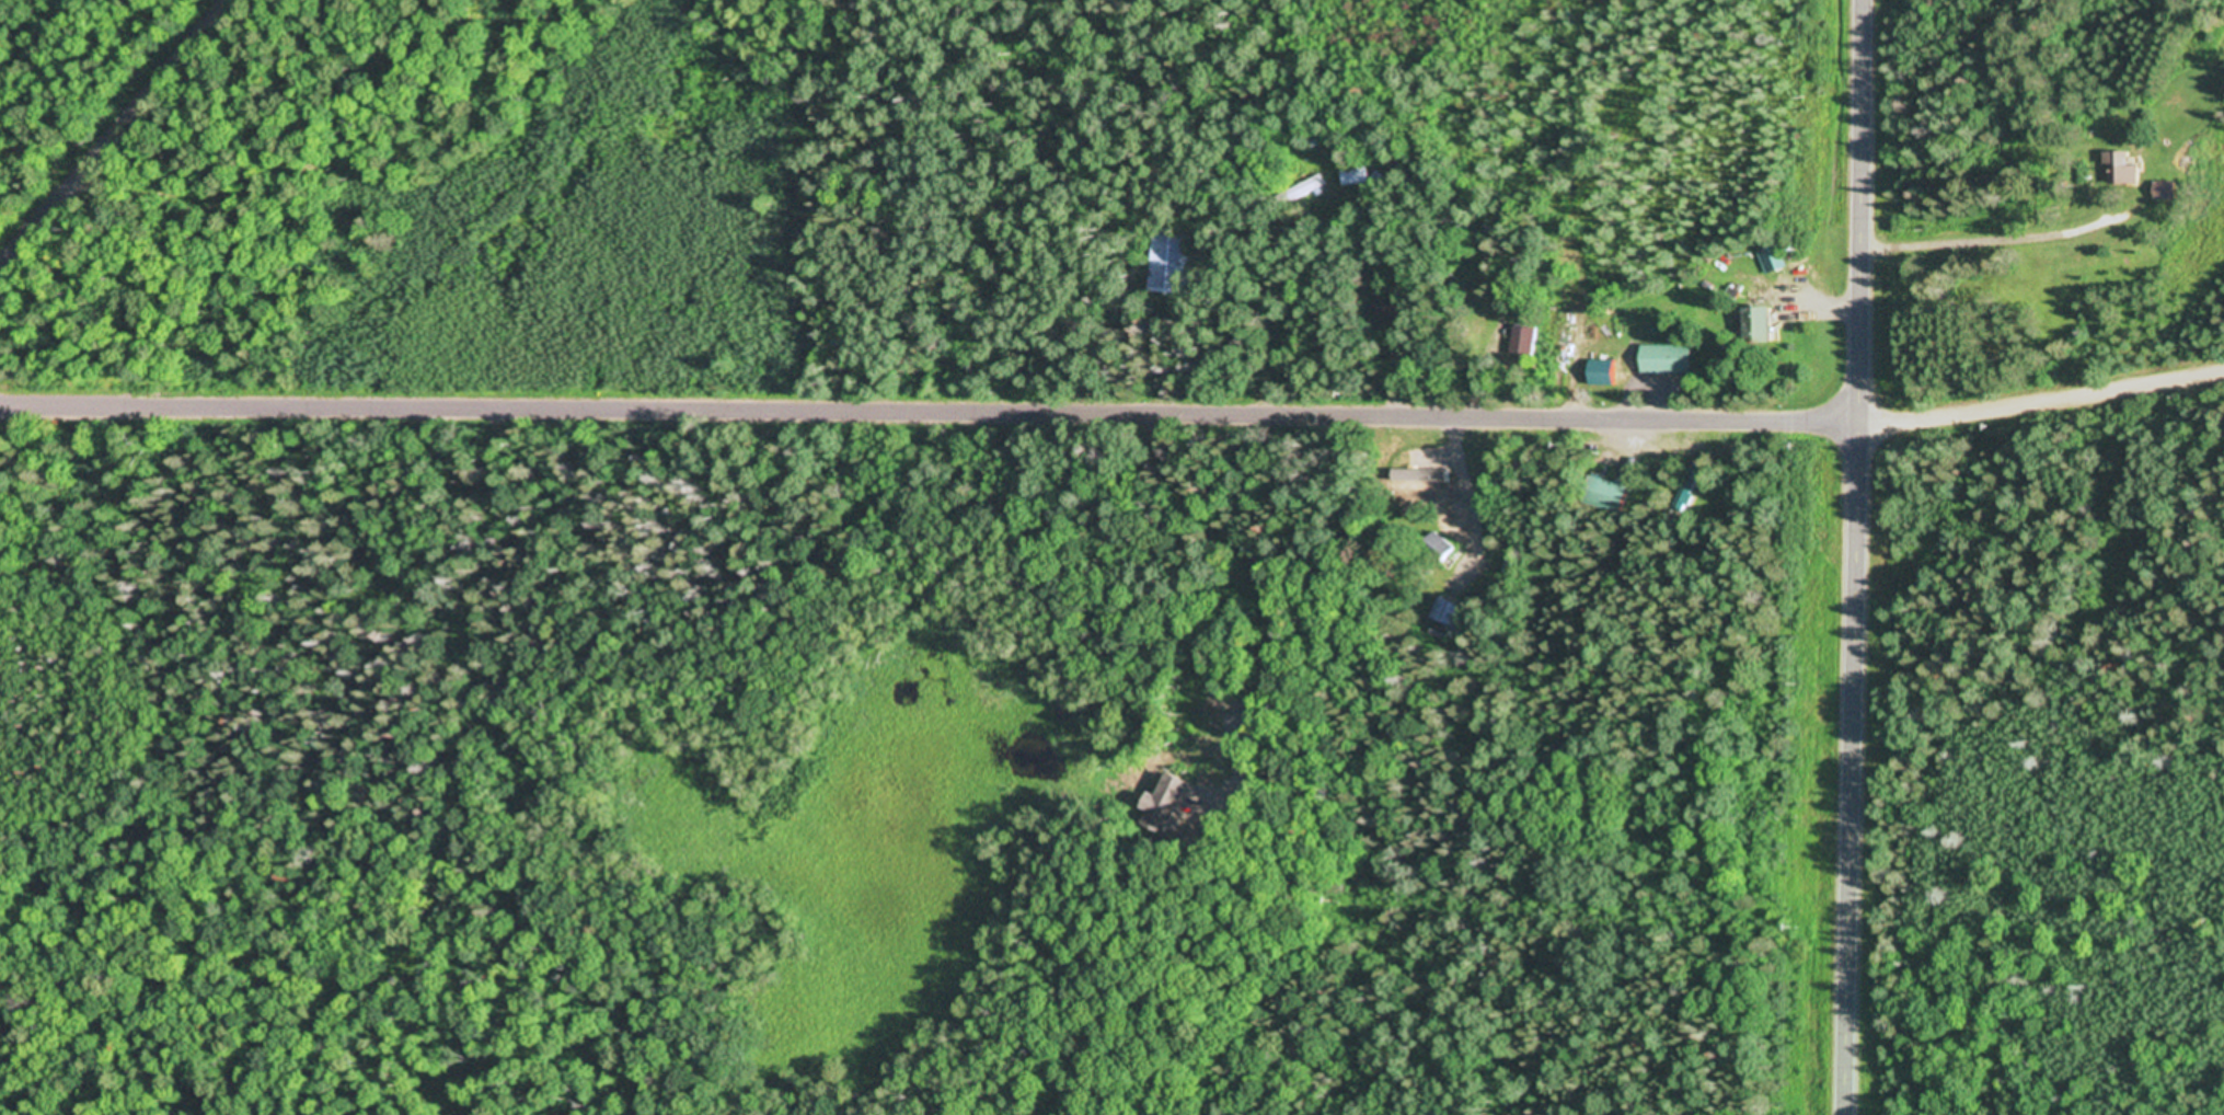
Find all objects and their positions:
road: (114, 137)
building: (2134, 166)
building: (1352, 176)
building: (2168, 189)
road: (1860, 215)
building: (1773, 260)
building: (1172, 261)
building: (1765, 323)
building: (1525, 338)
building: (1671, 359)
building: (1606, 371)
road: (2041, 405)
road: (929, 413)
road: (1858, 772)

